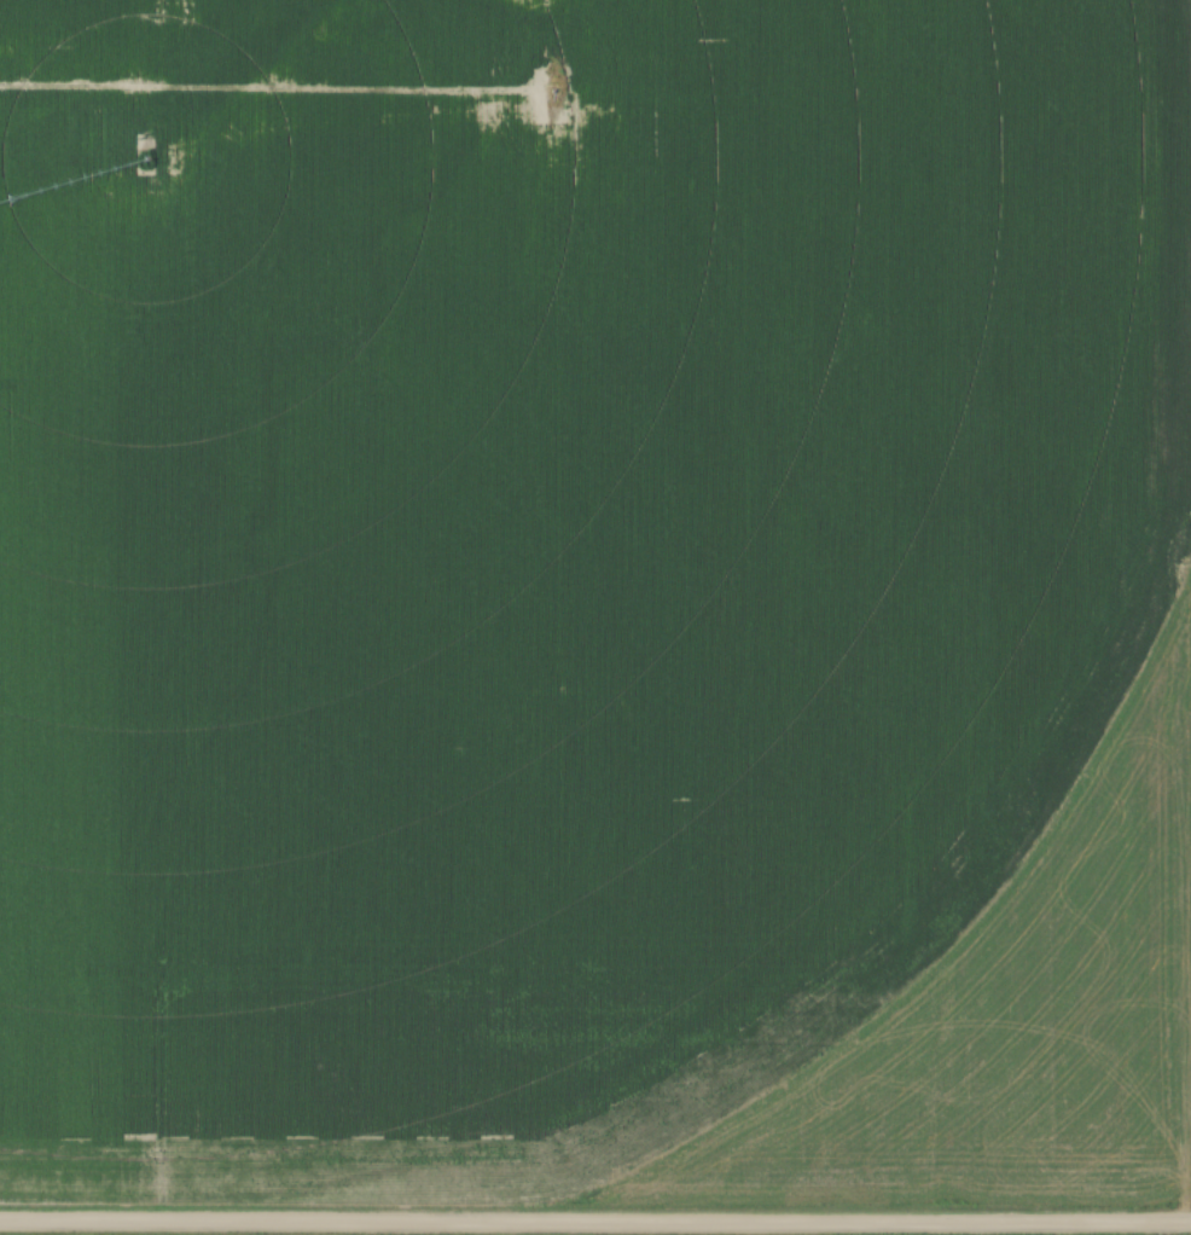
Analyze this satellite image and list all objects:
road: (595, 1225)

